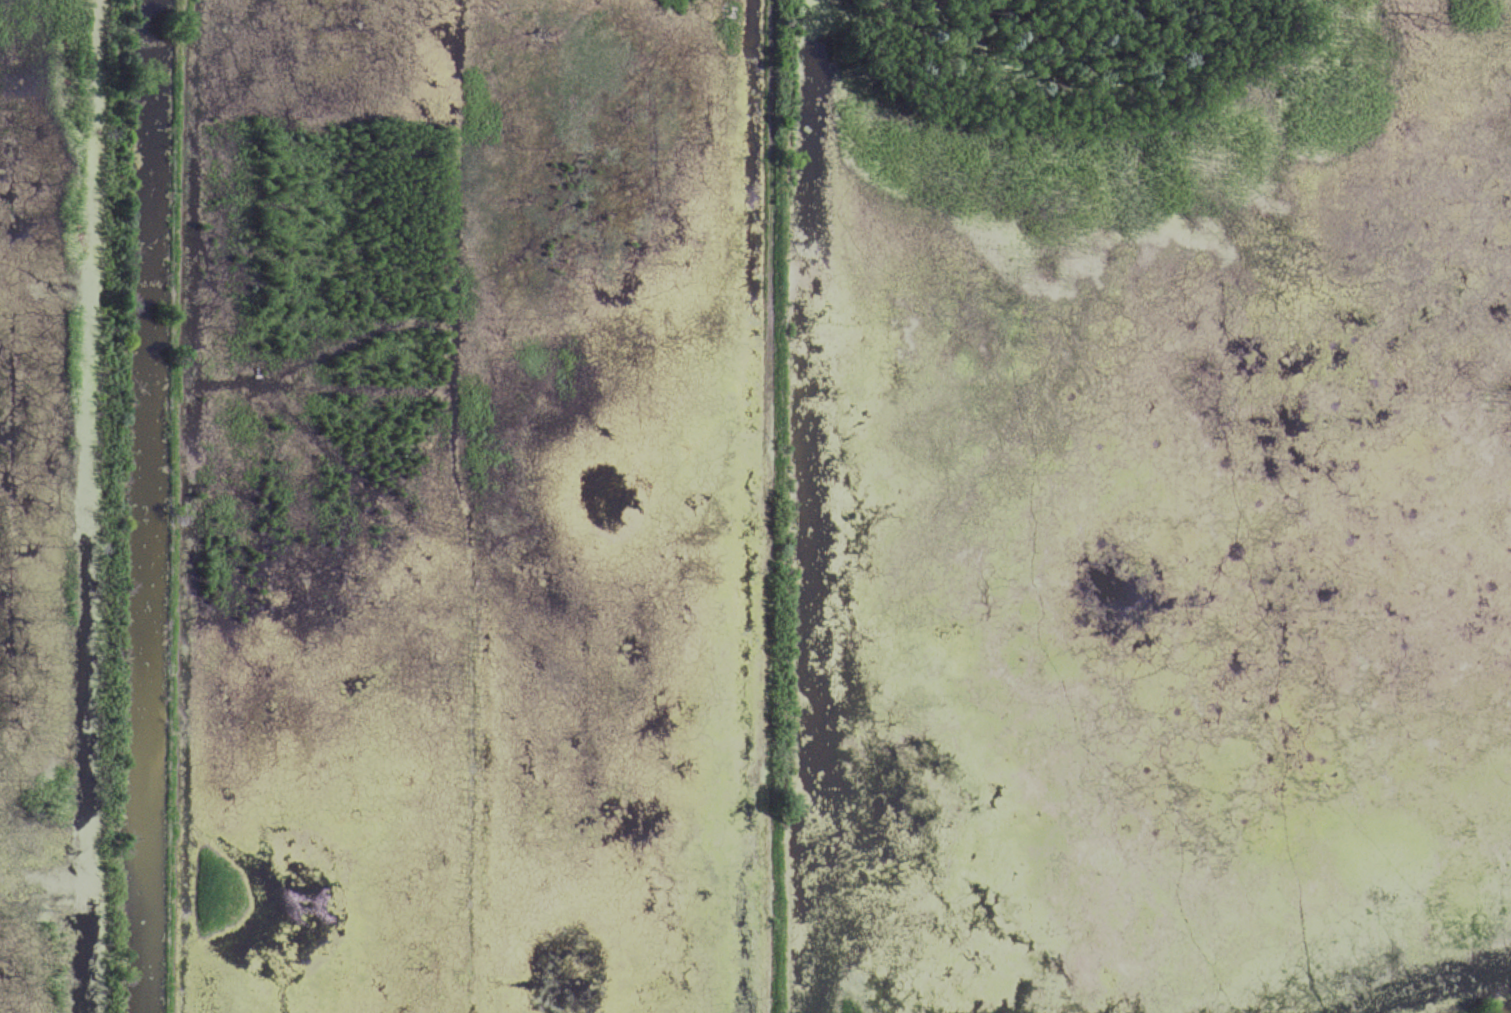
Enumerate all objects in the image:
crop: (46, 477)
road: (115, 506)
road: (777, 506)

